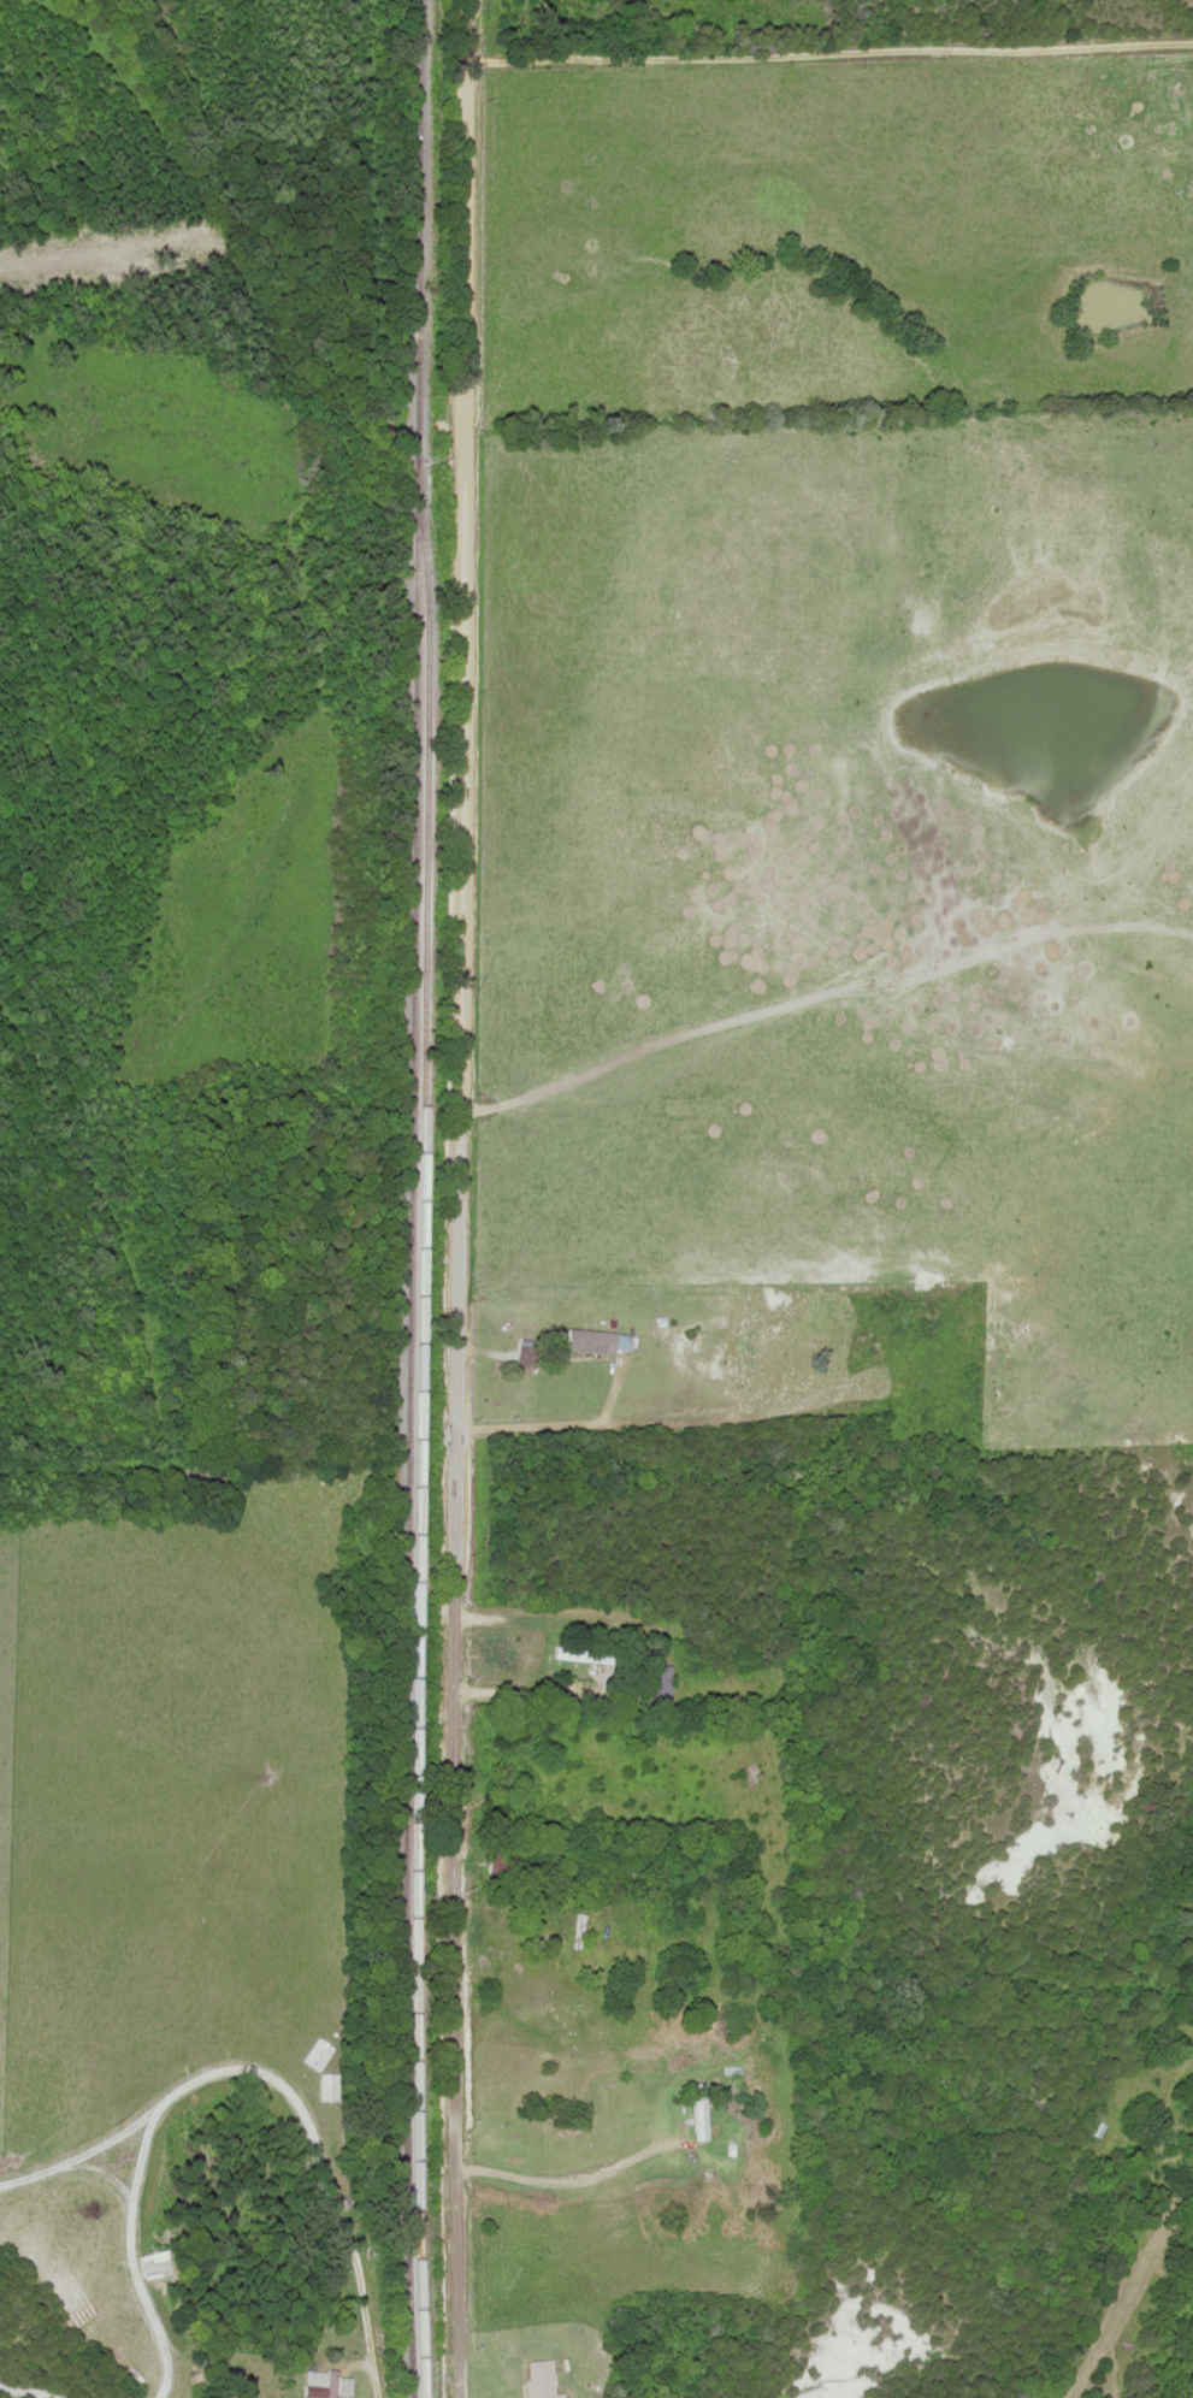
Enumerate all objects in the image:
road: (465, 28)
road: (828, 59)
railway: (412, 1199)
road: (457, 1227)
building: (527, 1333)
building: (858, 1340)
building: (595, 1341)
railway: (418, 1453)
building: (580, 1653)
building: (498, 1656)
building: (657, 1683)
building: (500, 1864)
road: (230, 2069)
building: (697, 2110)
building: (311, 2375)
building: (539, 2379)
building: (329, 2382)
building: (341, 2385)
road: (20, 2391)

